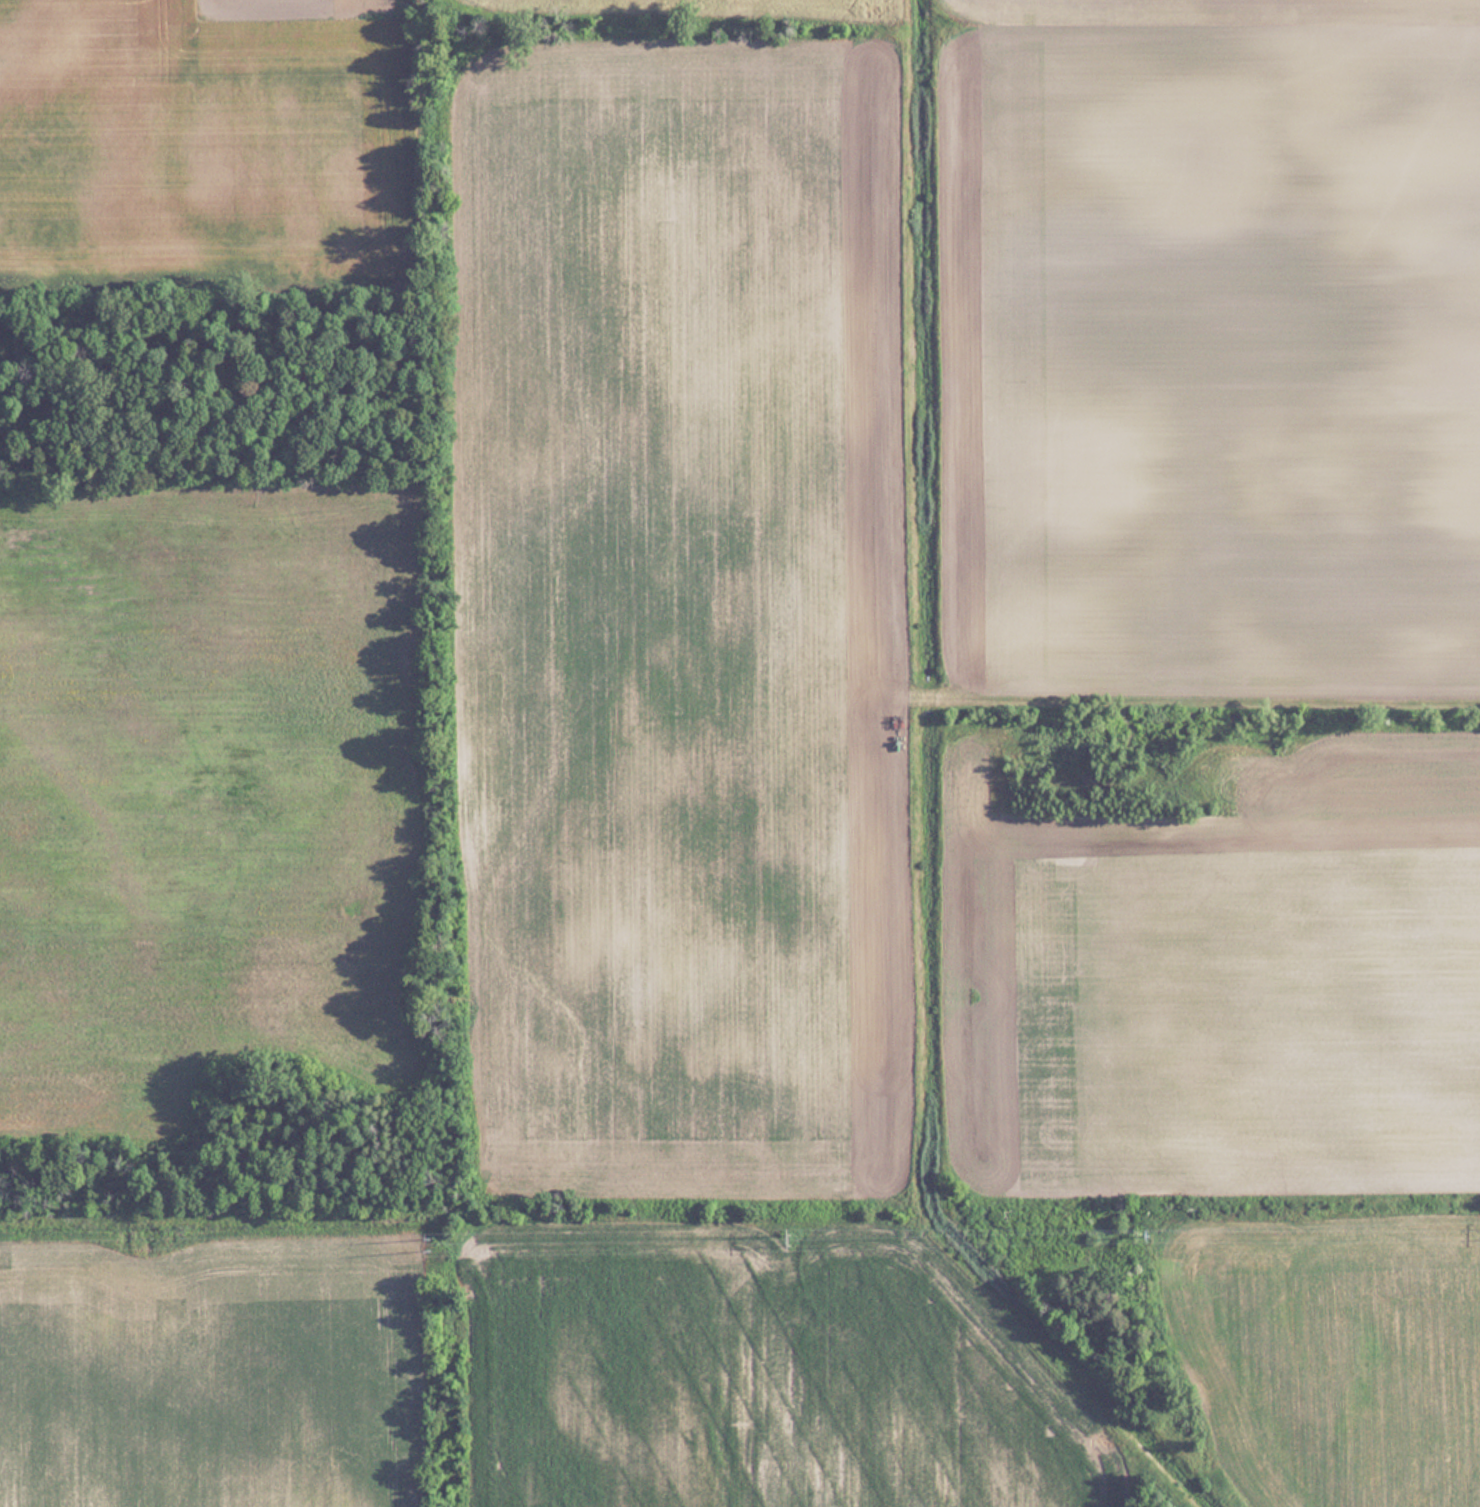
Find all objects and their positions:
power tower: (1153, 1232)
power tower: (789, 1235)
power tower: (449, 1239)

